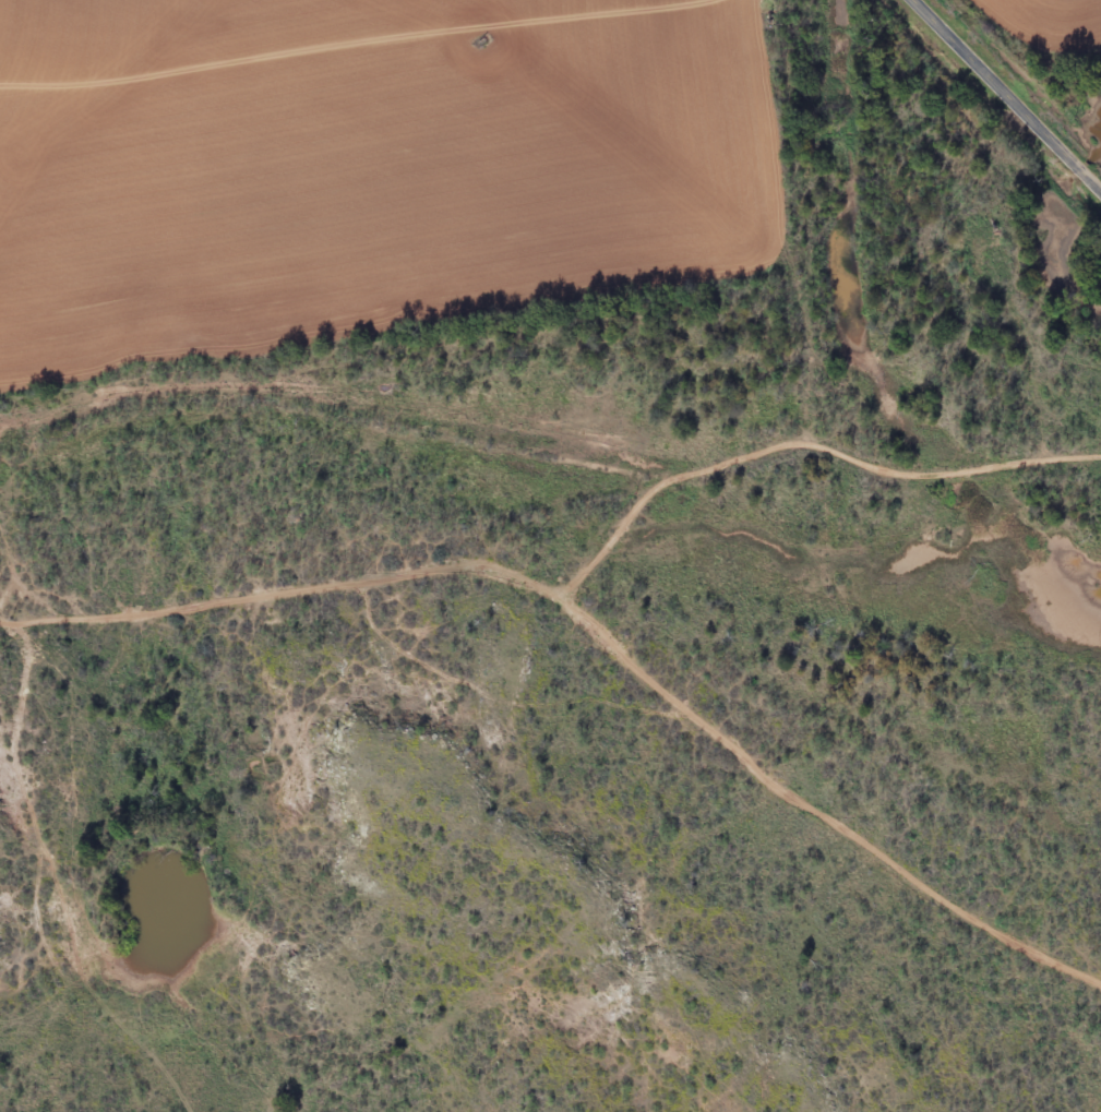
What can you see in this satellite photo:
road: (1006, 95)

